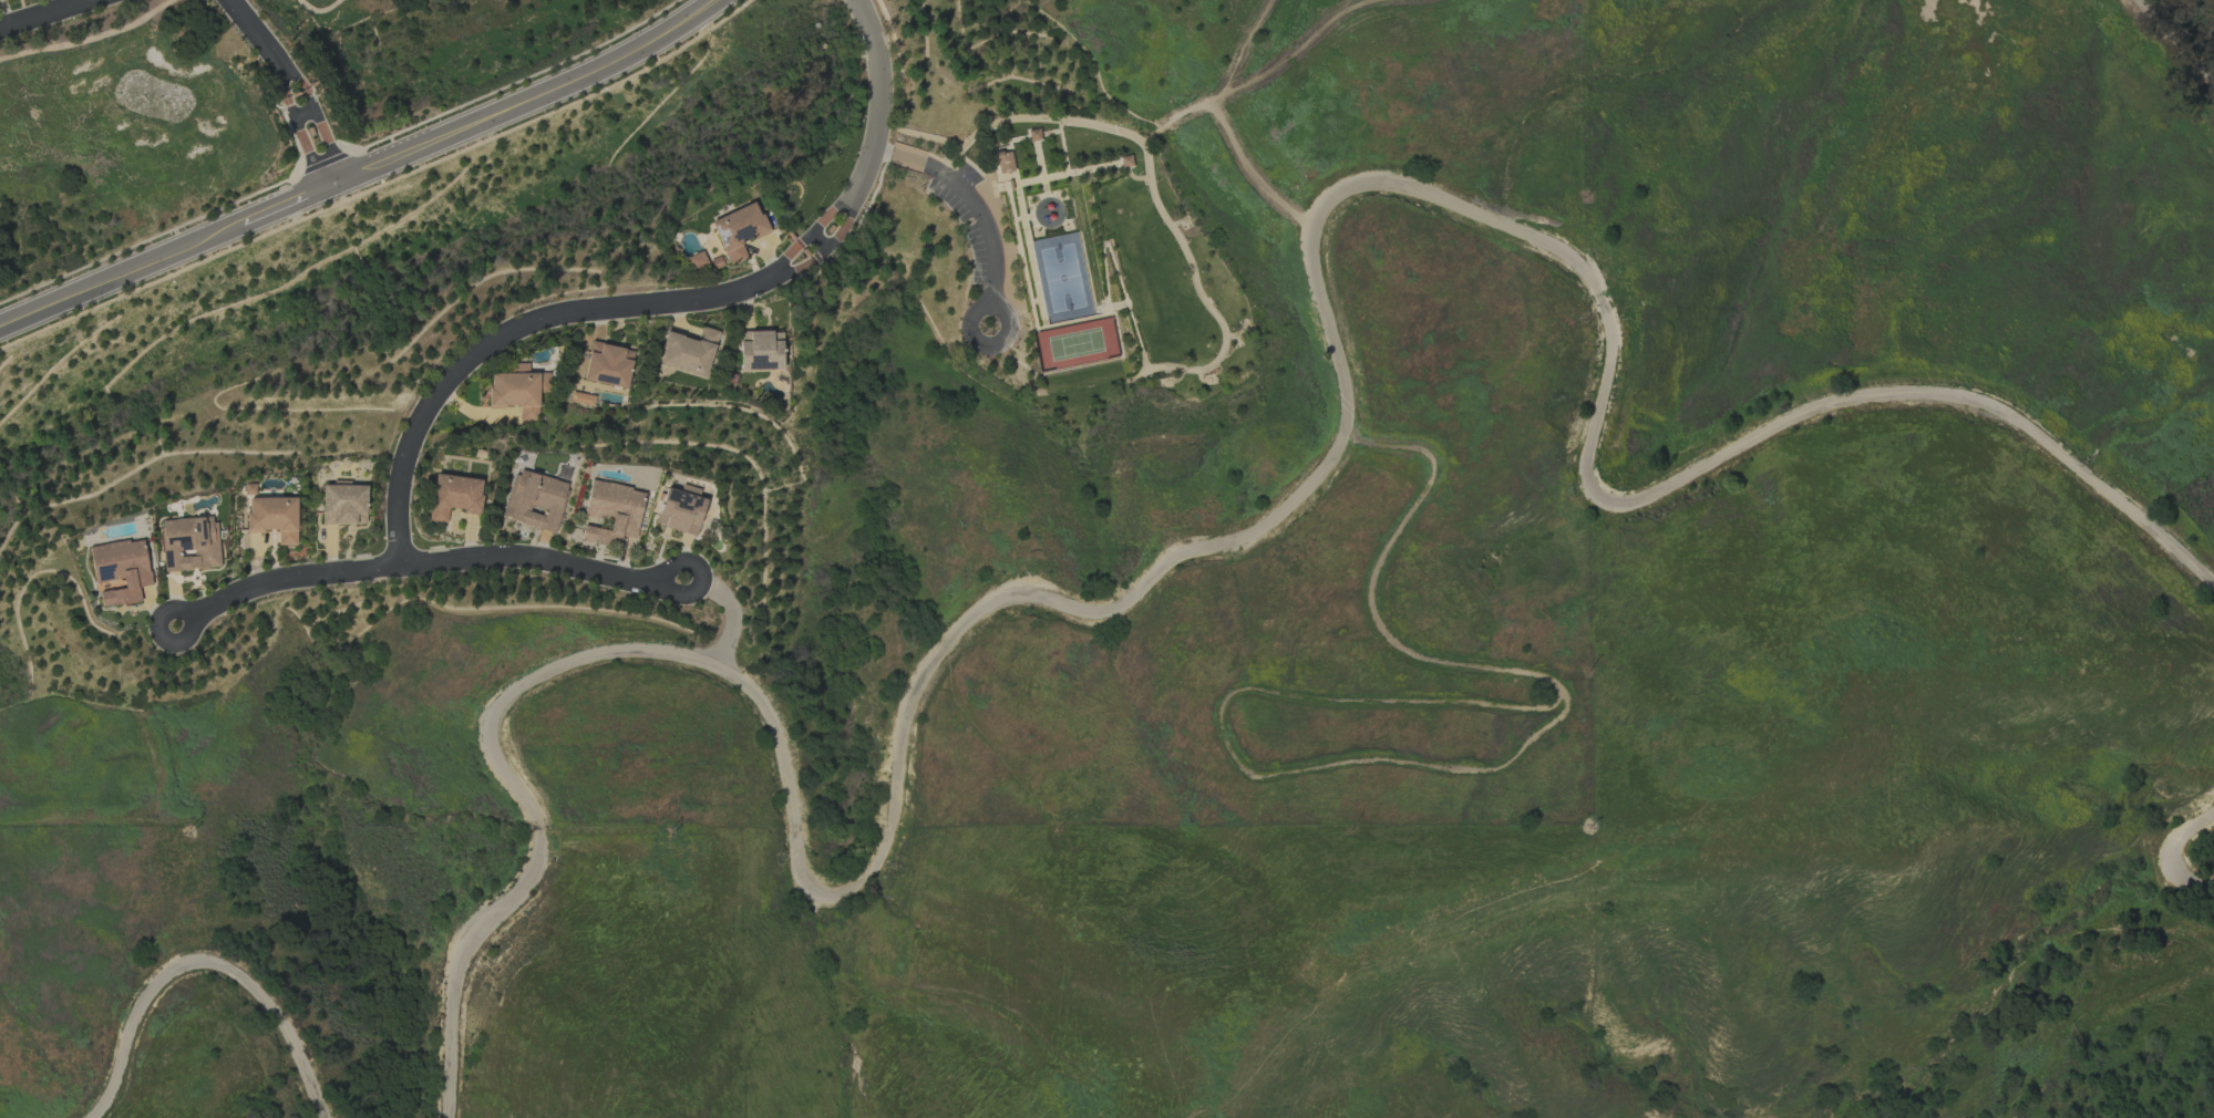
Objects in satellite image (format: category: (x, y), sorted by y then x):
road: (45, 14)
road: (2181, 39)
park: (429, 48)
road: (294, 87)
park: (141, 117)
road: (1052, 131)
building: (1032, 135)
road: (1151, 138)
road: (1013, 139)
road: (1062, 152)
road: (992, 159)
road: (1038, 159)
building: (1001, 162)
building: (1125, 162)
road: (1112, 164)
road: (1095, 167)
road: (976, 169)
road: (1079, 170)
road: (363, 174)
parking lot: (966, 174)
road: (1134, 177)
road: (1036, 179)
road: (1042, 182)
road: (1051, 196)
road: (1041, 198)
road: (968, 203)
road: (1009, 206)
road: (1019, 213)
road: (1031, 214)
road: (1033, 221)
parking lot: (962, 227)
building: (738, 230)
road: (1005, 250)
building: (696, 260)
park: (1057, 263)
road: (1021, 265)
road: (1113, 265)
road: (1032, 275)
park: (1061, 278)
road: (661, 300)
road: (1204, 300)
street lamp: (1098, 303)
road: (1124, 303)
road: (996, 306)
road: (1104, 308)
road: (1104, 311)
road: (1055, 323)
road: (1043, 325)
park: (1074, 343)
building: (760, 350)
building: (688, 351)
road: (1143, 362)
building: (606, 364)
building: (517, 390)
building: (453, 496)
building: (534, 500)
building: (343, 504)
building: (611, 513)
building: (272, 517)
road: (1252, 530)
building: (188, 544)
road: (423, 565)
building: (120, 569)
road: (703, 583)
road: (192, 619)
road: (1462, 777)
road: (2170, 861)
road: (2121, 932)
road: (210, 965)
road: (2093, 1024)

